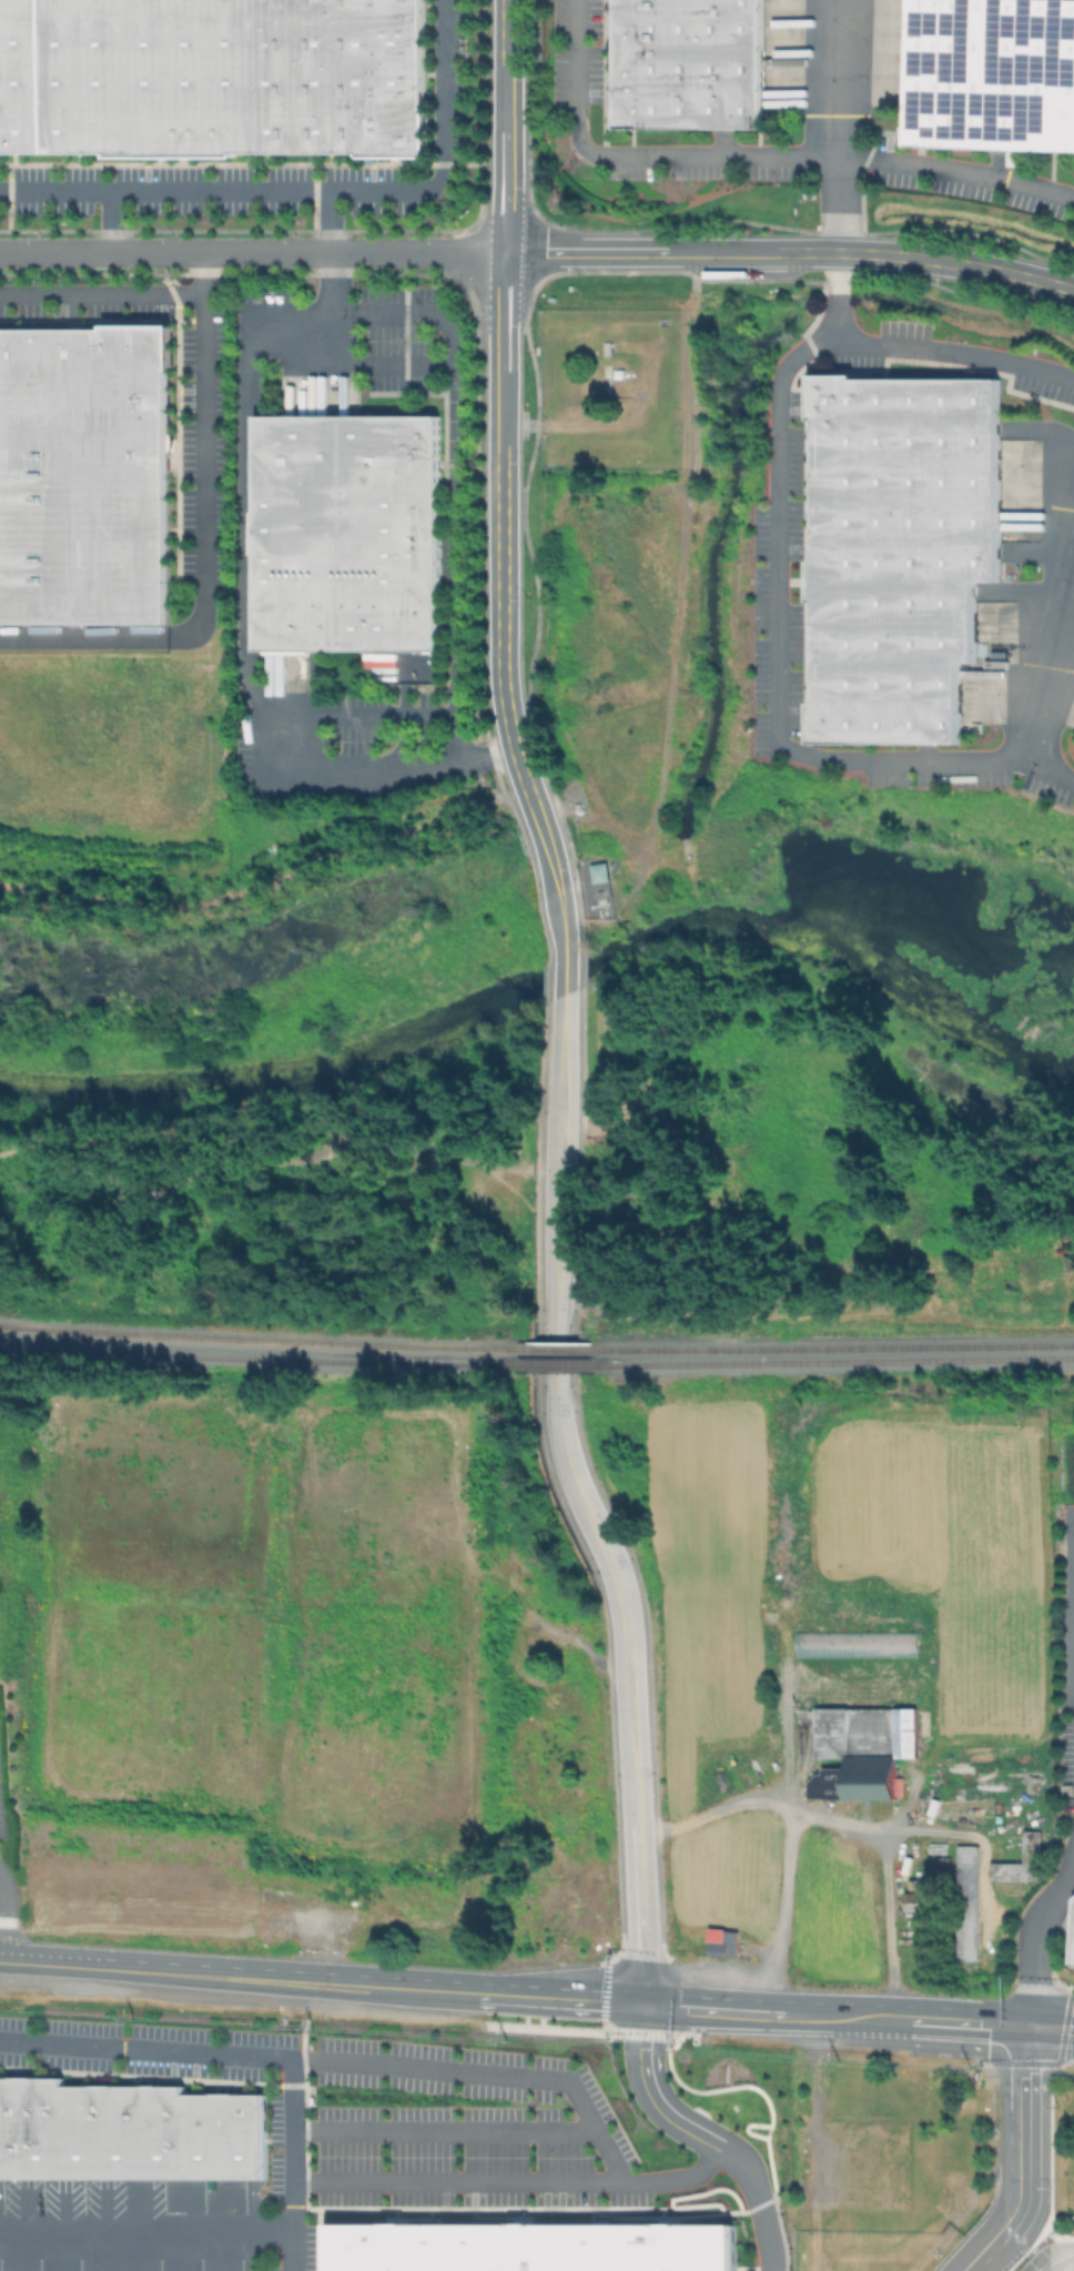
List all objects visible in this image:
building: (691, 64)
building: (993, 74)
building: (210, 75)
road: (838, 125)
road: (506, 127)
road: (753, 155)
road: (311, 191)
road: (111, 221)
road: (252, 251)
road: (671, 252)
road: (958, 263)
road: (103, 295)
road: (912, 349)
road: (374, 365)
road: (459, 453)
road: (209, 457)
building: (83, 477)
building: (352, 534)
building: (902, 553)
road: (501, 561)
road: (247, 598)
road: (84, 637)
road: (777, 677)
road: (1047, 678)
road: (355, 714)
road: (515, 793)
building: (602, 875)
road: (256, 886)
road: (560, 899)
road: (564, 978)
road: (559, 1171)
railway: (257, 1338)
railway: (558, 1345)
railway: (837, 1345)
railway: (257, 1355)
railway: (835, 1360)
railway: (556, 1362)
building: (859, 1642)
road: (627, 1658)
building: (865, 1745)
road: (845, 1818)
road: (951, 1831)
building: (940, 1846)
building: (1036, 1848)
building: (942, 1868)
building: (924, 1897)
building: (970, 1904)
road: (779, 1906)
road: (4, 1917)
road: (10, 1918)
road: (1034, 1935)
building: (1072, 1939)
building: (720, 1942)
road: (7, 1962)
road: (252, 1978)
road: (597, 2000)
road: (808, 2013)
road: (972, 2023)
traffic signals: (1033, 2027)
road: (1053, 2028)
road: (253, 2056)
road: (594, 2113)
building: (128, 2130)
road: (710, 2133)
road: (609, 2153)
road: (1030, 2158)
road: (517, 2178)
road: (146, 2231)
building: (531, 2247)
road: (1056, 2257)

